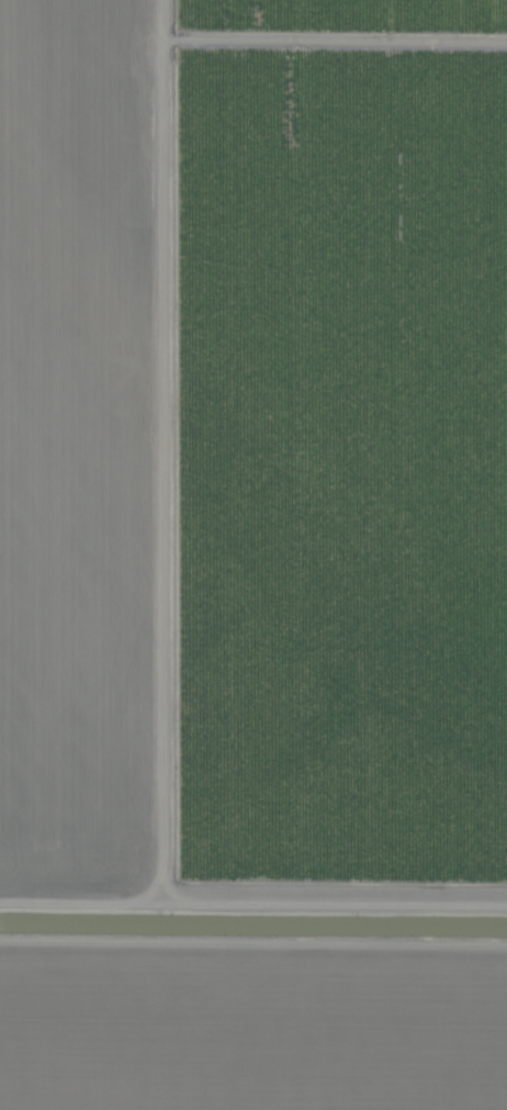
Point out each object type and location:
crop: (253, 554)
road: (253, 979)

